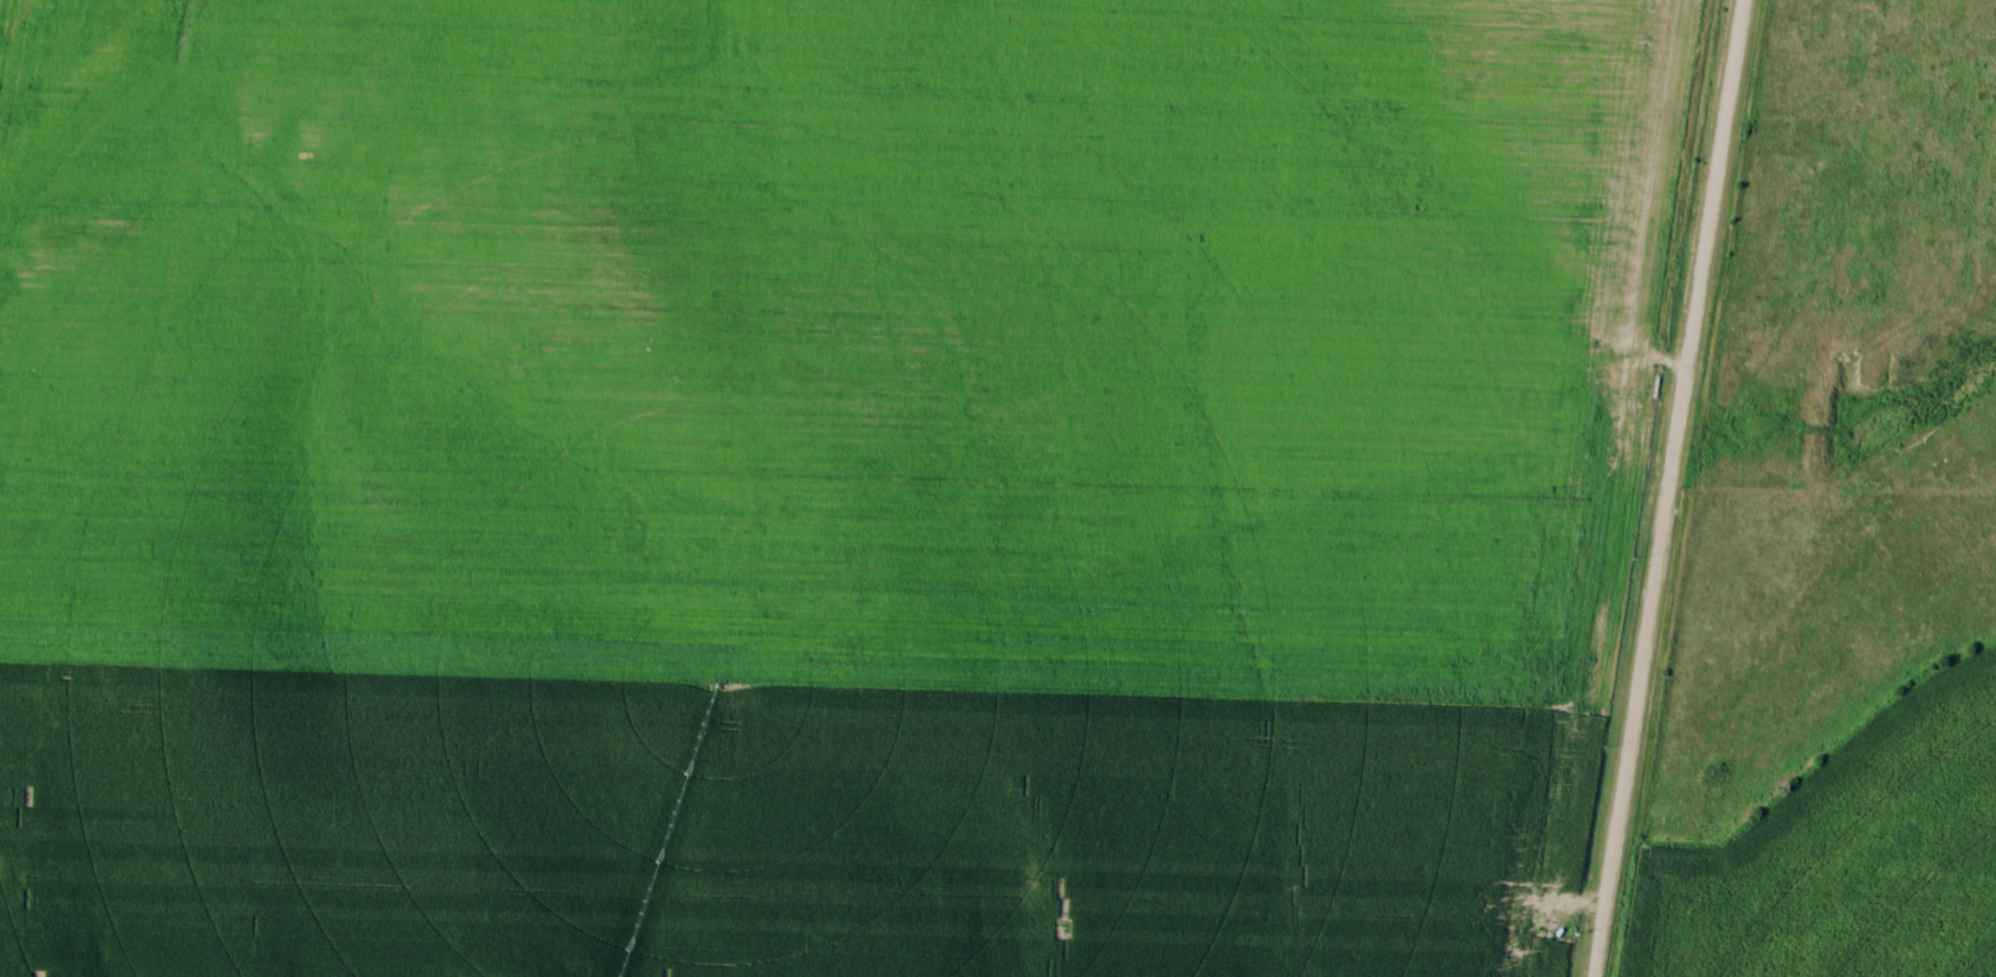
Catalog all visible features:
road: (1672, 488)

